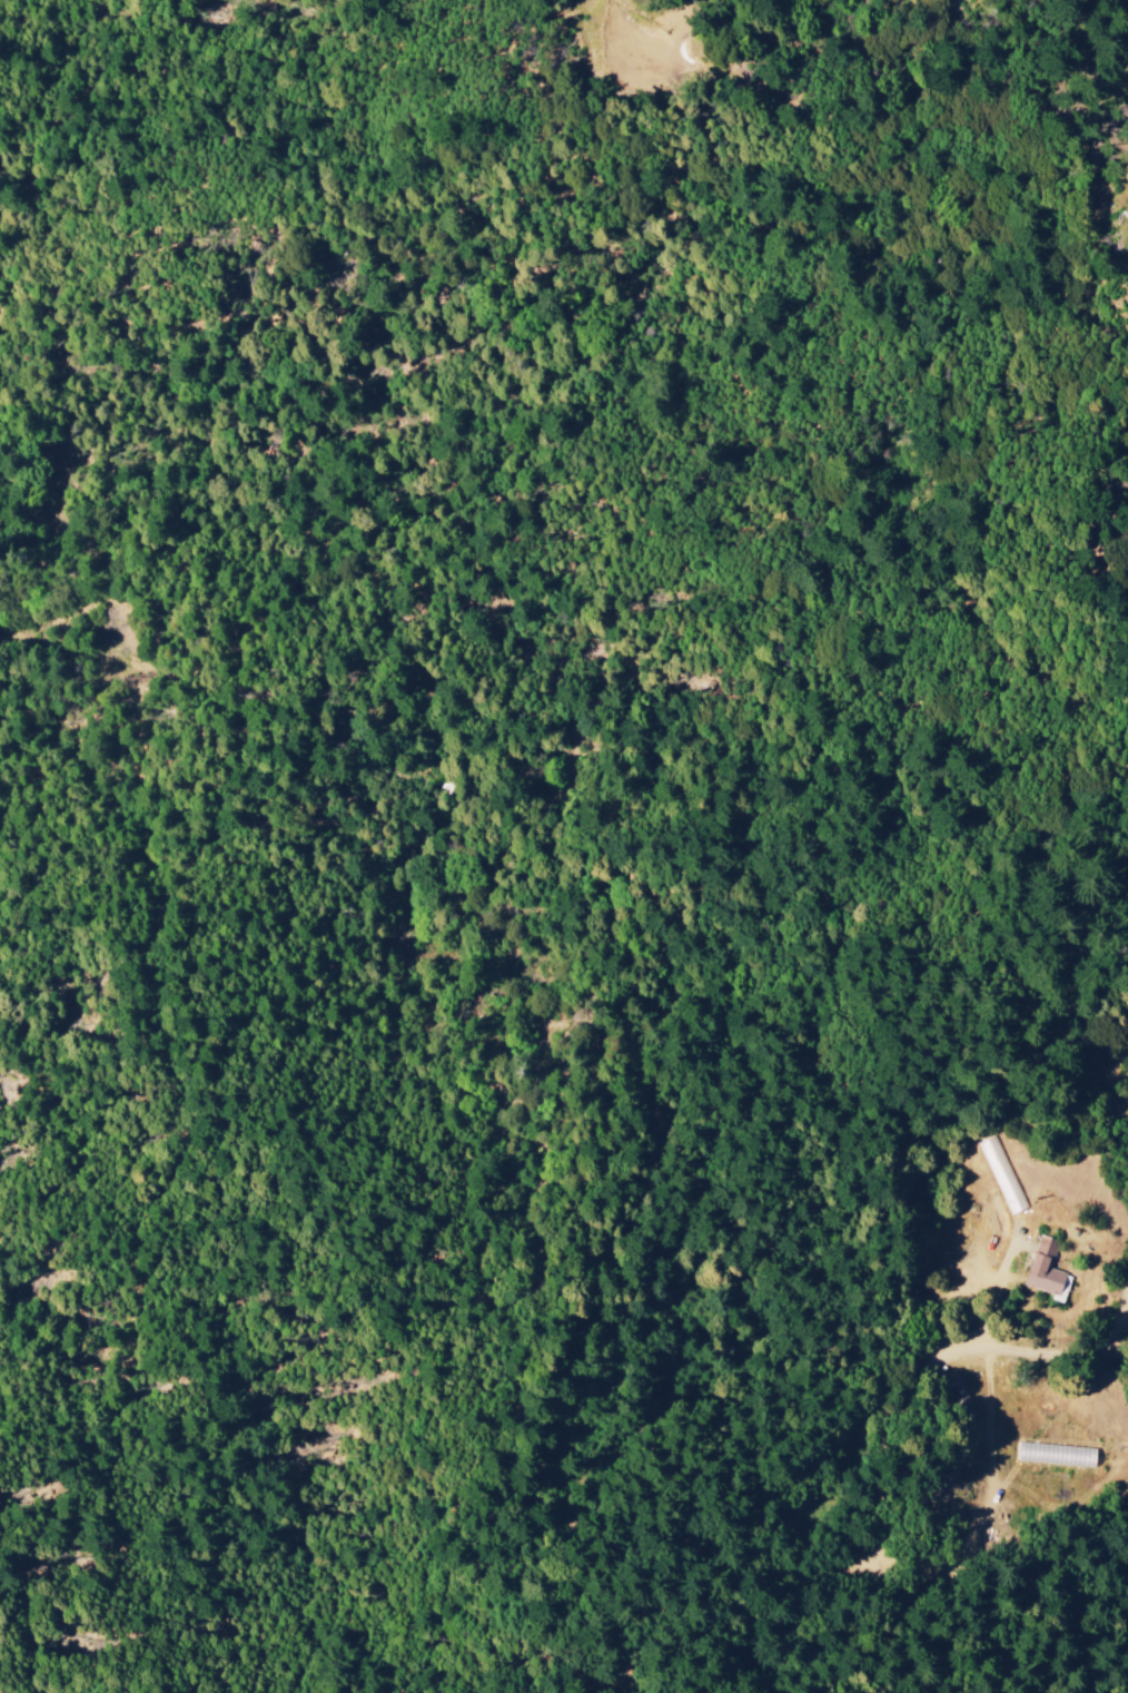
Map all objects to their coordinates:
building: (1001, 1177)
road: (993, 1508)

